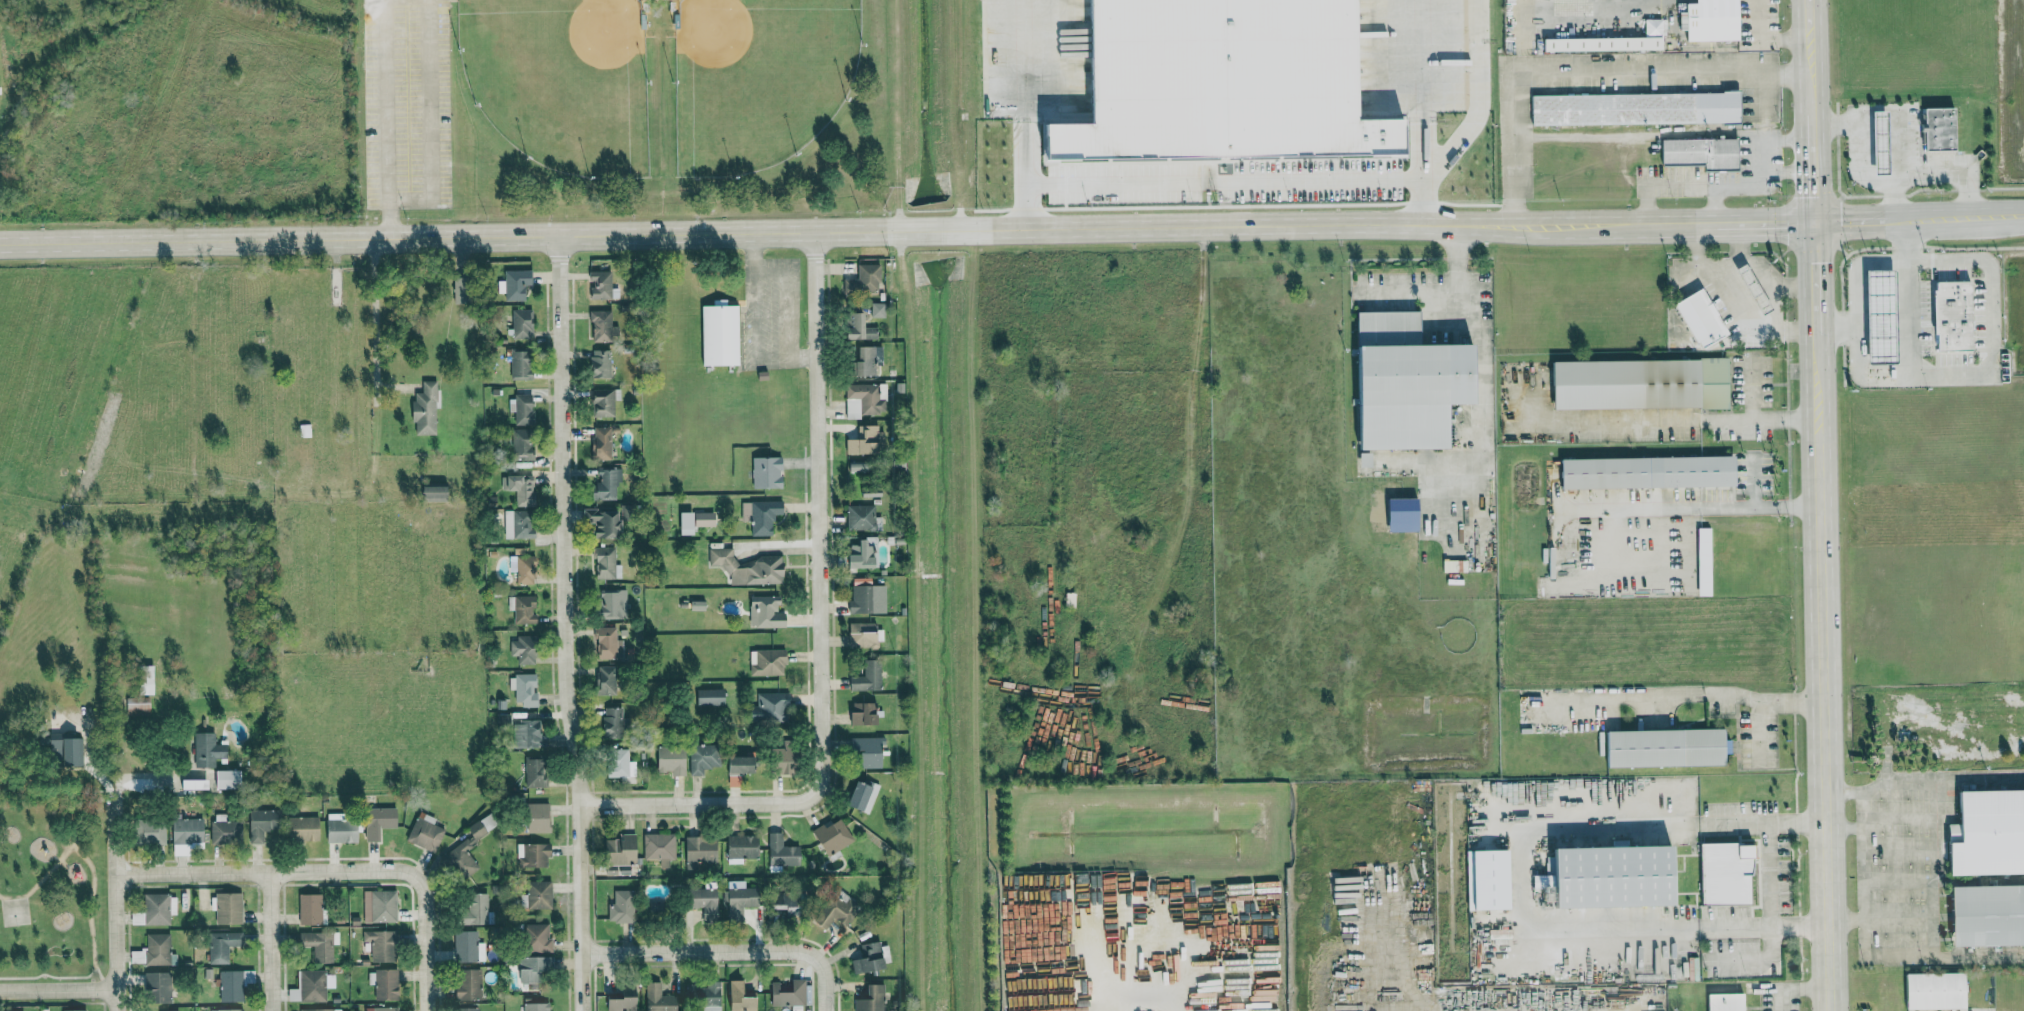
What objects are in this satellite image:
road: (1761, 14)
building: (1705, 20)
road: (1809, 37)
building: (1607, 41)
road: (1588, 72)
building: (1209, 82)
road: (1811, 92)
road: (386, 100)
building: (1630, 108)
road: (1421, 113)
road: (1025, 114)
road: (429, 121)
building: (1935, 128)
building: (1874, 142)
building: (1696, 152)
road: (1858, 164)
road: (1813, 165)
road: (1756, 173)
road: (1785, 173)
road: (1952, 175)
road: (1223, 181)
road: (1661, 187)
road: (1965, 217)
road: (388, 219)
road: (1860, 221)
road: (1763, 224)
road: (1613, 226)
road: (756, 232)
road: (1907, 240)
road: (754, 268)
road: (1856, 271)
road: (1815, 278)
building: (865, 280)
building: (515, 285)
building: (602, 285)
building: (878, 310)
building: (1949, 315)
road: (755, 316)
road: (785, 316)
building: (1875, 316)
building: (1694, 319)
road: (1909, 320)
building: (522, 324)
road: (375, 325)
building: (604, 325)
building: (862, 328)
building: (722, 335)
road: (1483, 343)
road: (771, 360)
road: (801, 360)
building: (868, 361)
building: (601, 364)
building: (522, 365)
road: (1816, 376)
road: (1978, 379)
building: (1400, 383)
building: (1635, 384)
building: (863, 401)
building: (604, 403)
building: (523, 409)
building: (426, 410)
road: (1676, 419)
building: (865, 441)
building: (604, 443)
building: (523, 444)
building: (1642, 472)
building: (768, 473)
building: (609, 484)
building: (521, 489)
building: (437, 493)
road: (1694, 509)
building: (1396, 515)
building: (764, 516)
building: (861, 518)
building: (608, 522)
building: (697, 522)
building: (519, 524)
building: (865, 556)
building: (1700, 561)
building: (606, 563)
building: (1448, 566)
building: (749, 568)
building: (524, 569)
building: (865, 599)
building: (613, 605)
building: (767, 612)
building: (524, 613)
road: (565, 623)
road: (821, 633)
building: (864, 635)
building: (609, 644)
building: (524, 650)
building: (768, 662)
building: (868, 678)
building: (150, 680)
building: (612, 680)
building: (524, 689)
building: (711, 697)
road: (1629, 699)
road: (1764, 700)
building: (773, 707)
building: (139, 709)
building: (864, 714)
road: (1823, 714)
building: (615, 724)
road: (1762, 730)
building: (528, 734)
building: (1661, 747)
building: (64, 750)
building: (209, 750)
building: (865, 751)
building: (704, 758)
building: (672, 761)
building: (620, 764)
building: (744, 765)
building: (536, 773)
building: (230, 780)
building: (196, 785)
building: (858, 795)
road: (1864, 811)
building: (539, 818)
building: (380, 823)
building: (260, 827)
building: (304, 829)
building: (342, 830)
building: (225, 831)
building: (1985, 832)
building: (155, 833)
building: (188, 833)
building: (426, 833)
building: (829, 835)
building: (468, 842)
building: (738, 846)
building: (659, 850)
building: (701, 850)
building: (778, 850)
building: (623, 851)
building: (534, 855)
road: (82, 857)
road: (58, 859)
road: (268, 873)
building: (1720, 873)
building: (1606, 874)
road: (1517, 876)
building: (1484, 877)
park: (53, 890)
road: (1864, 892)
building: (540, 895)
building: (698, 898)
building: (735, 899)
building: (774, 900)
road: (116, 901)
building: (380, 906)
building: (831, 907)
building: (228, 908)
building: (622, 908)
building: (157, 909)
building: (475, 909)
park: (14, 910)
building: (310, 910)
building: (1983, 913)
building: (537, 938)
road: (1165, 939)
road: (271, 942)
road: (427, 942)
building: (223, 945)
building: (381, 945)
building: (319, 946)
building: (468, 946)
building: (153, 951)
road: (700, 952)
building: (883, 954)
building: (866, 957)
building: (535, 968)
road: (62, 977)
road: (824, 983)
building: (386, 984)
building: (235, 985)
building: (469, 985)
building: (311, 986)
building: (158, 987)
road: (1796, 988)
road: (58, 990)
building: (1930, 990)
building: (700, 992)
building: (784, 992)
building: (736, 996)
building: (653, 997)
building: (619, 998)
building: (867, 999)
building: (1723, 1001)
building: (533, 1006)
building: (382, 1009)
building: (467, 1009)
building: (78, 1010)
building: (163, 1010)
building: (228, 1010)
building: (318, 1010)

